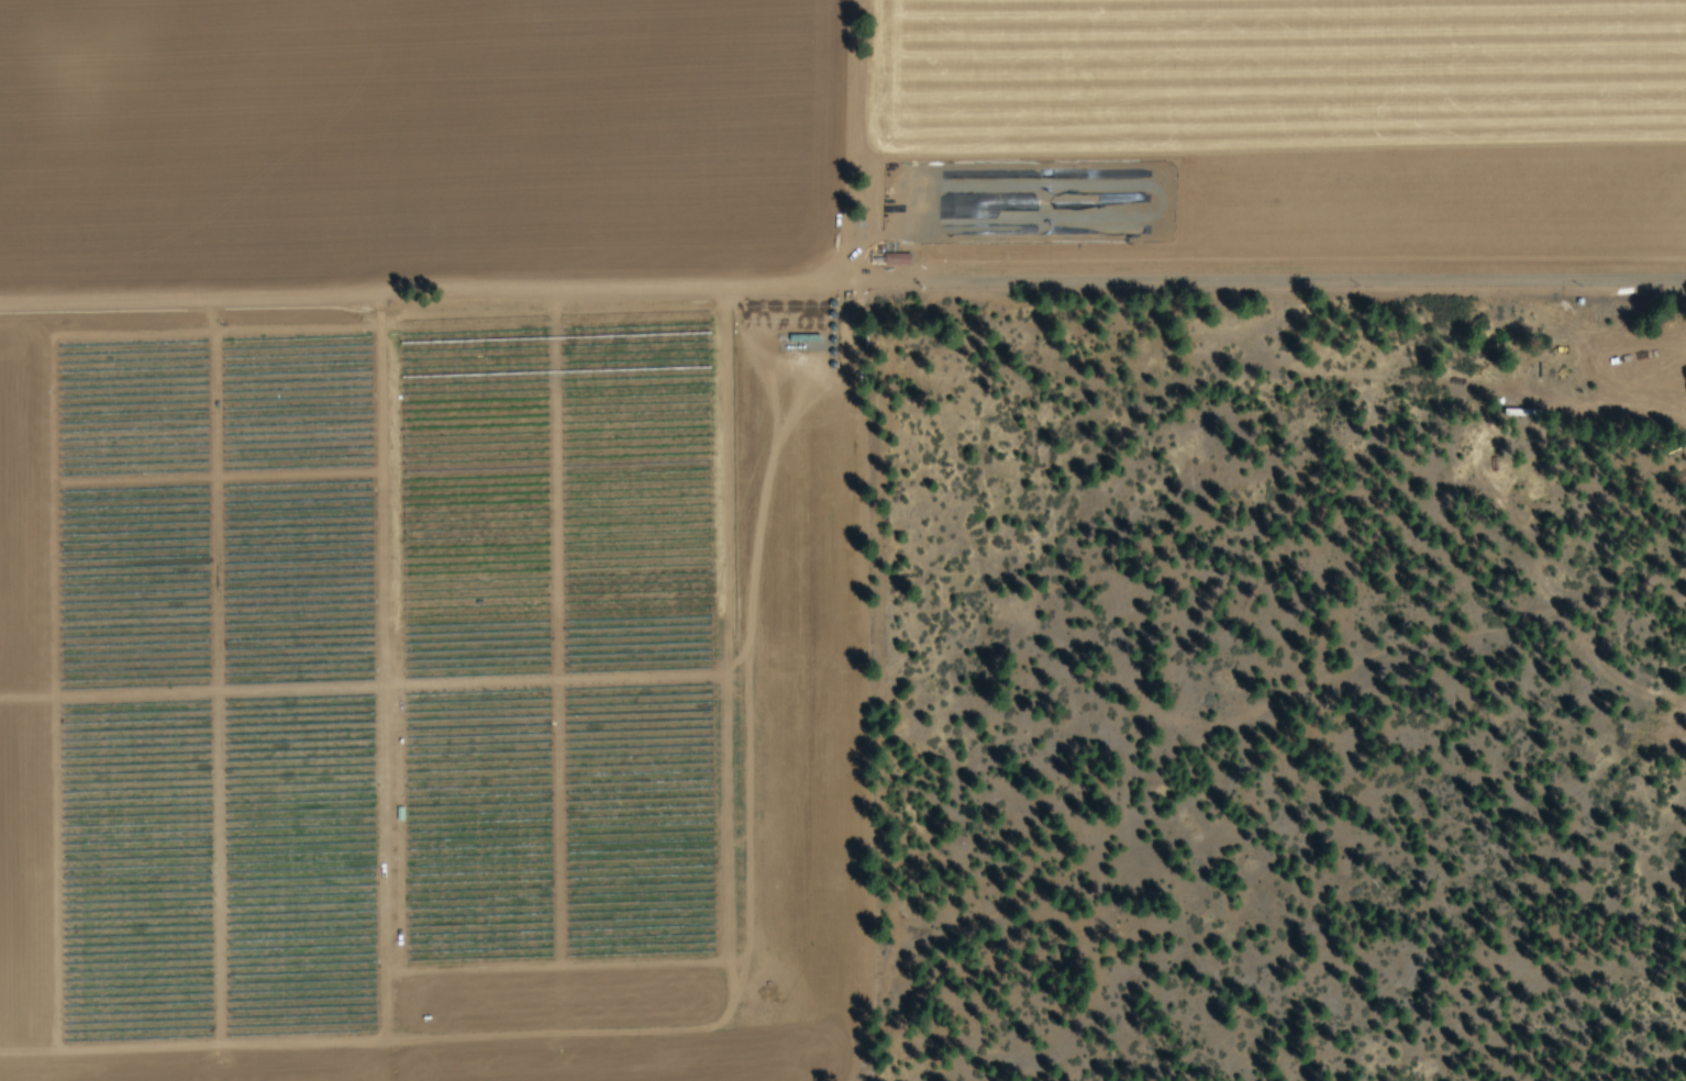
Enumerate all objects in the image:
road: (1277, 283)
road: (875, 540)

